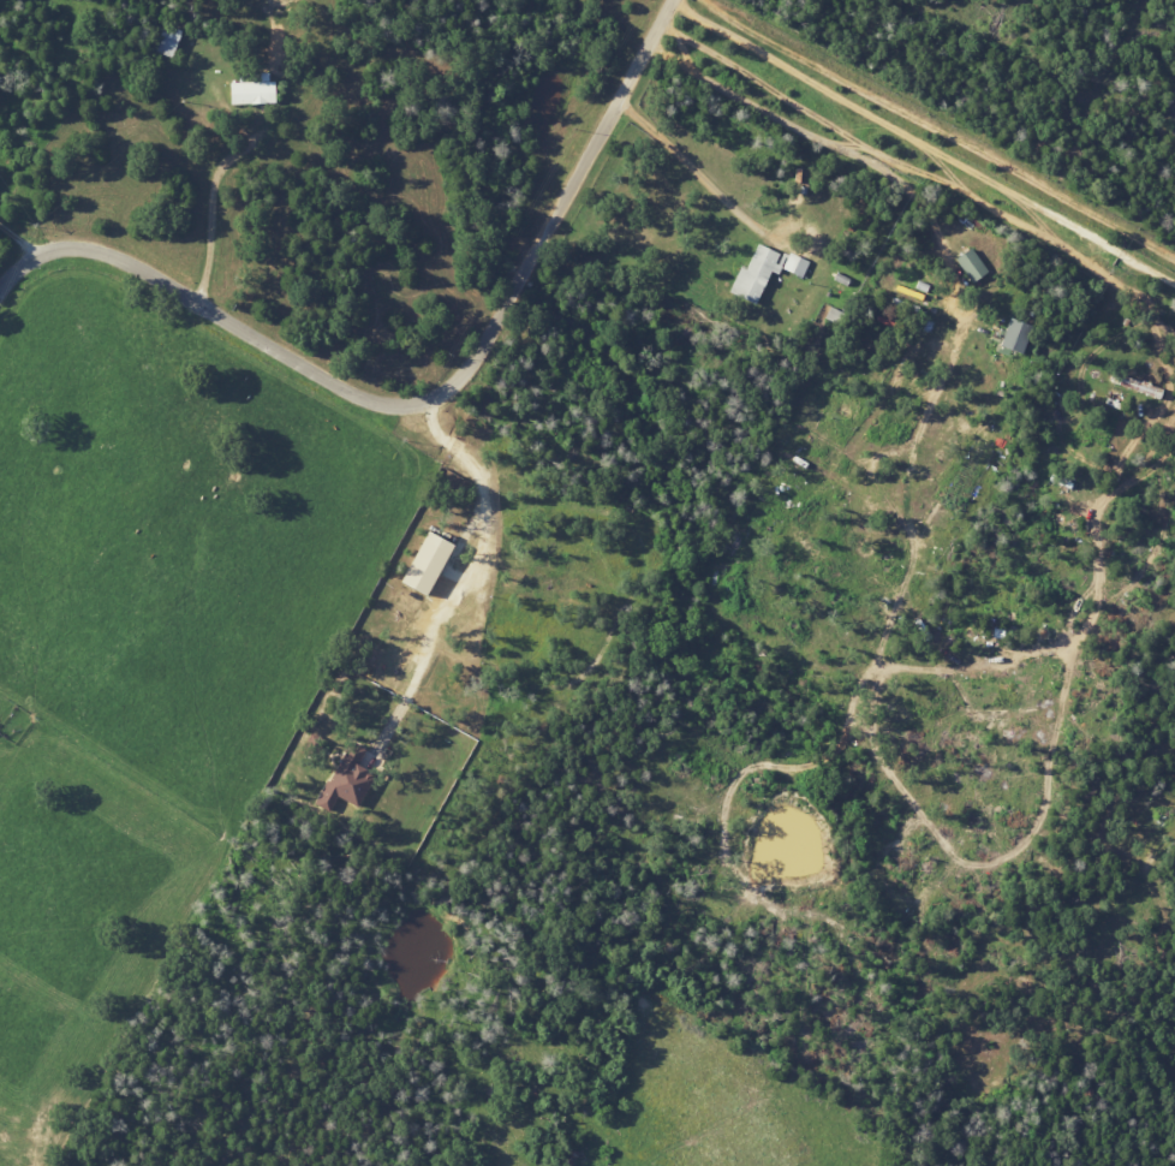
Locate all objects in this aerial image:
building: (167, 40)
building: (251, 90)
road: (940, 129)
road: (924, 142)
road: (834, 145)
road: (684, 167)
road: (208, 201)
road: (19, 242)
building: (794, 264)
building: (968, 264)
building: (753, 273)
building: (1009, 335)
road: (425, 404)
building: (422, 564)
road: (481, 572)
building: (345, 778)

